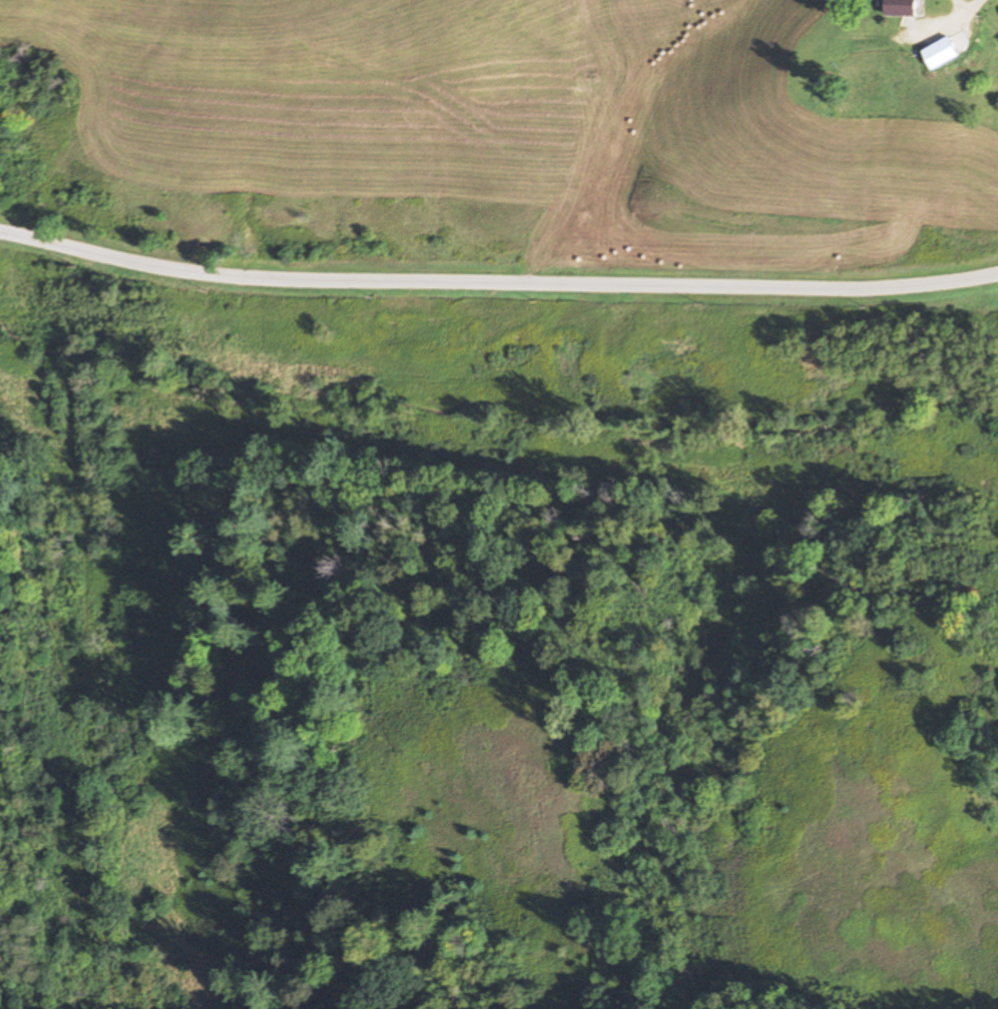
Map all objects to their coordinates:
building: (908, 7)
road: (969, 12)
building: (947, 55)
road: (497, 288)

